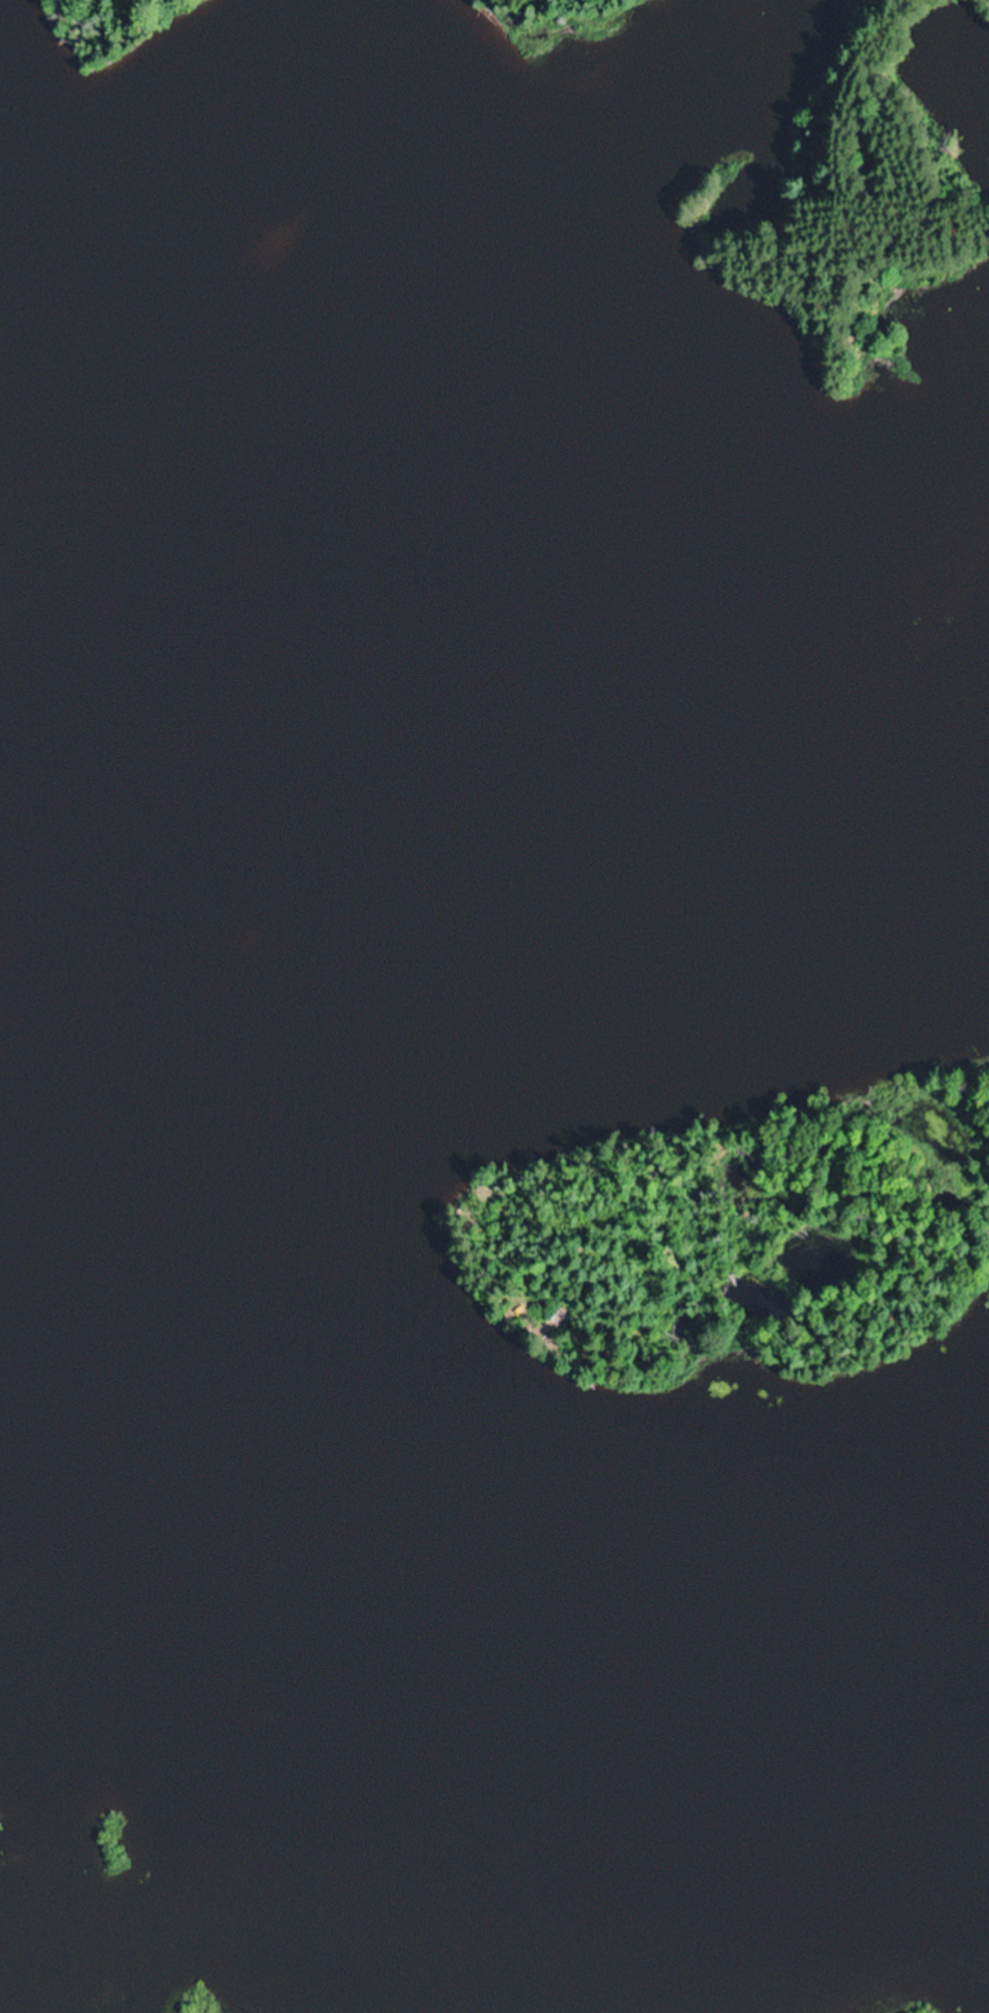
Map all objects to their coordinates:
river: (490, 1686)

